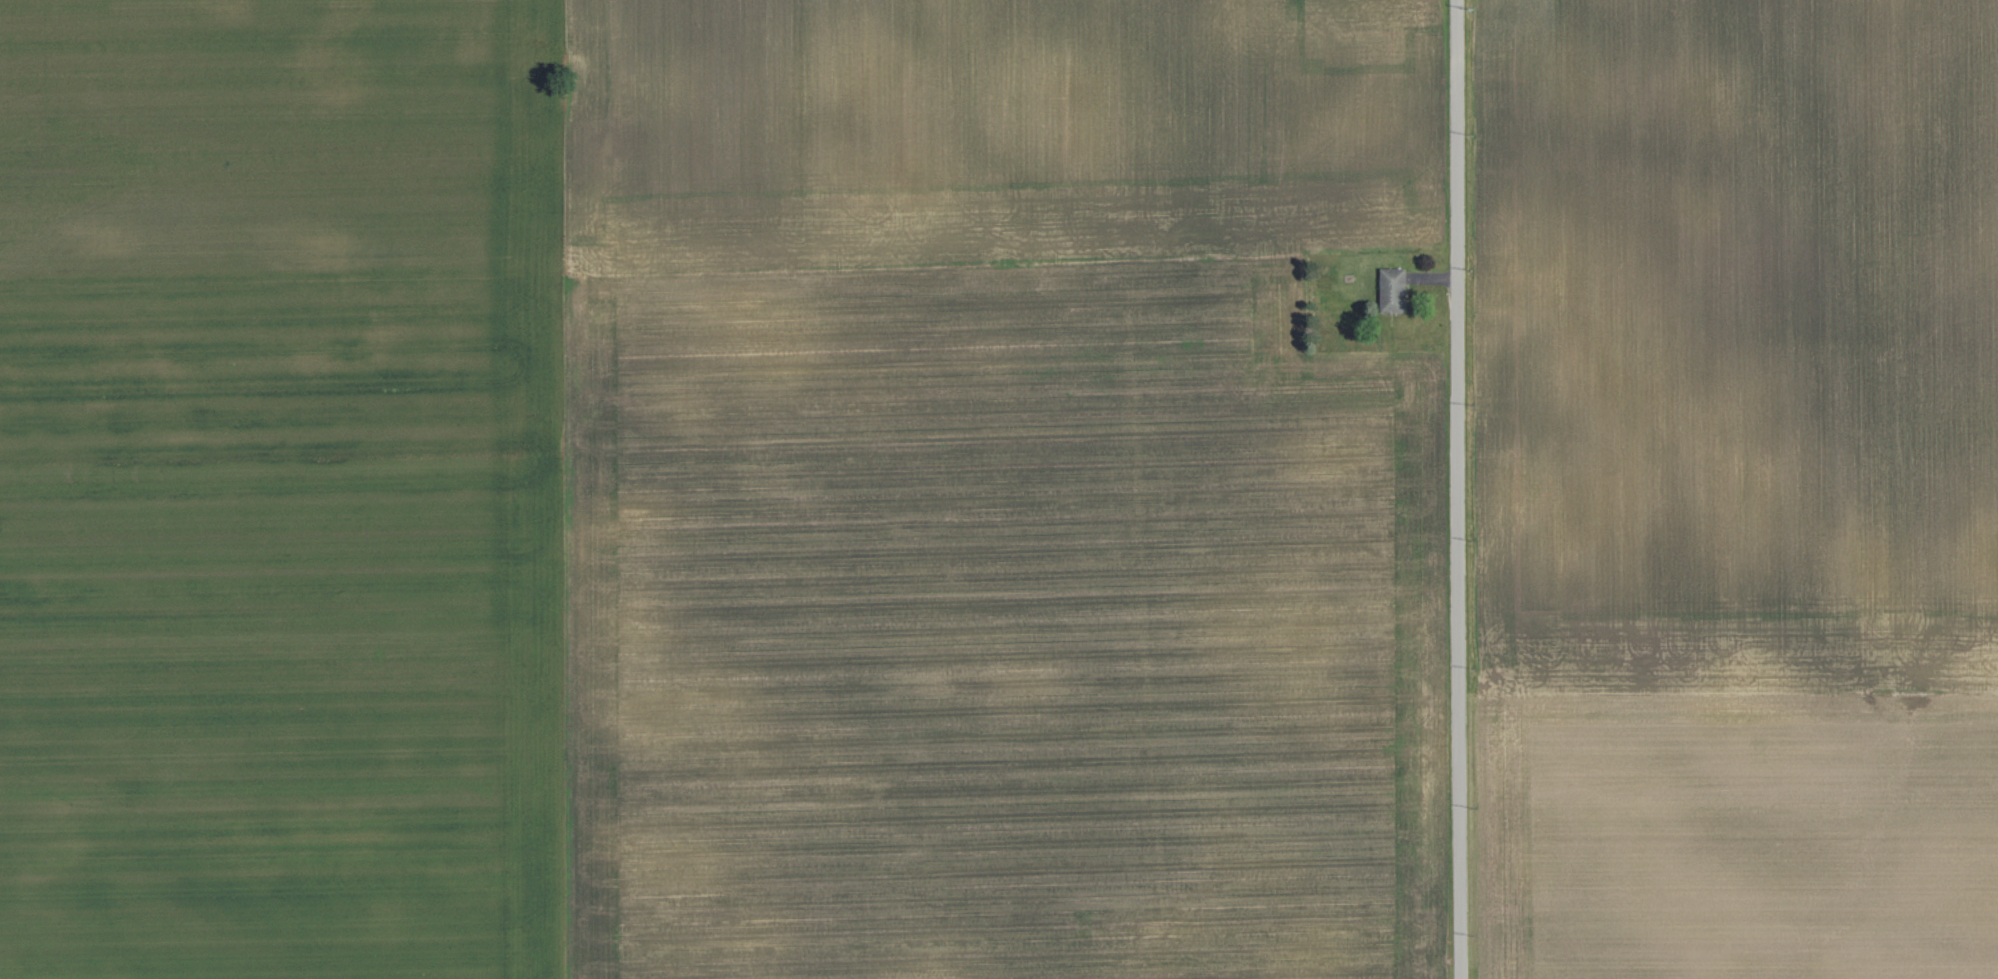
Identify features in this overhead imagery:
building: (1394, 289)
road: (1463, 489)

